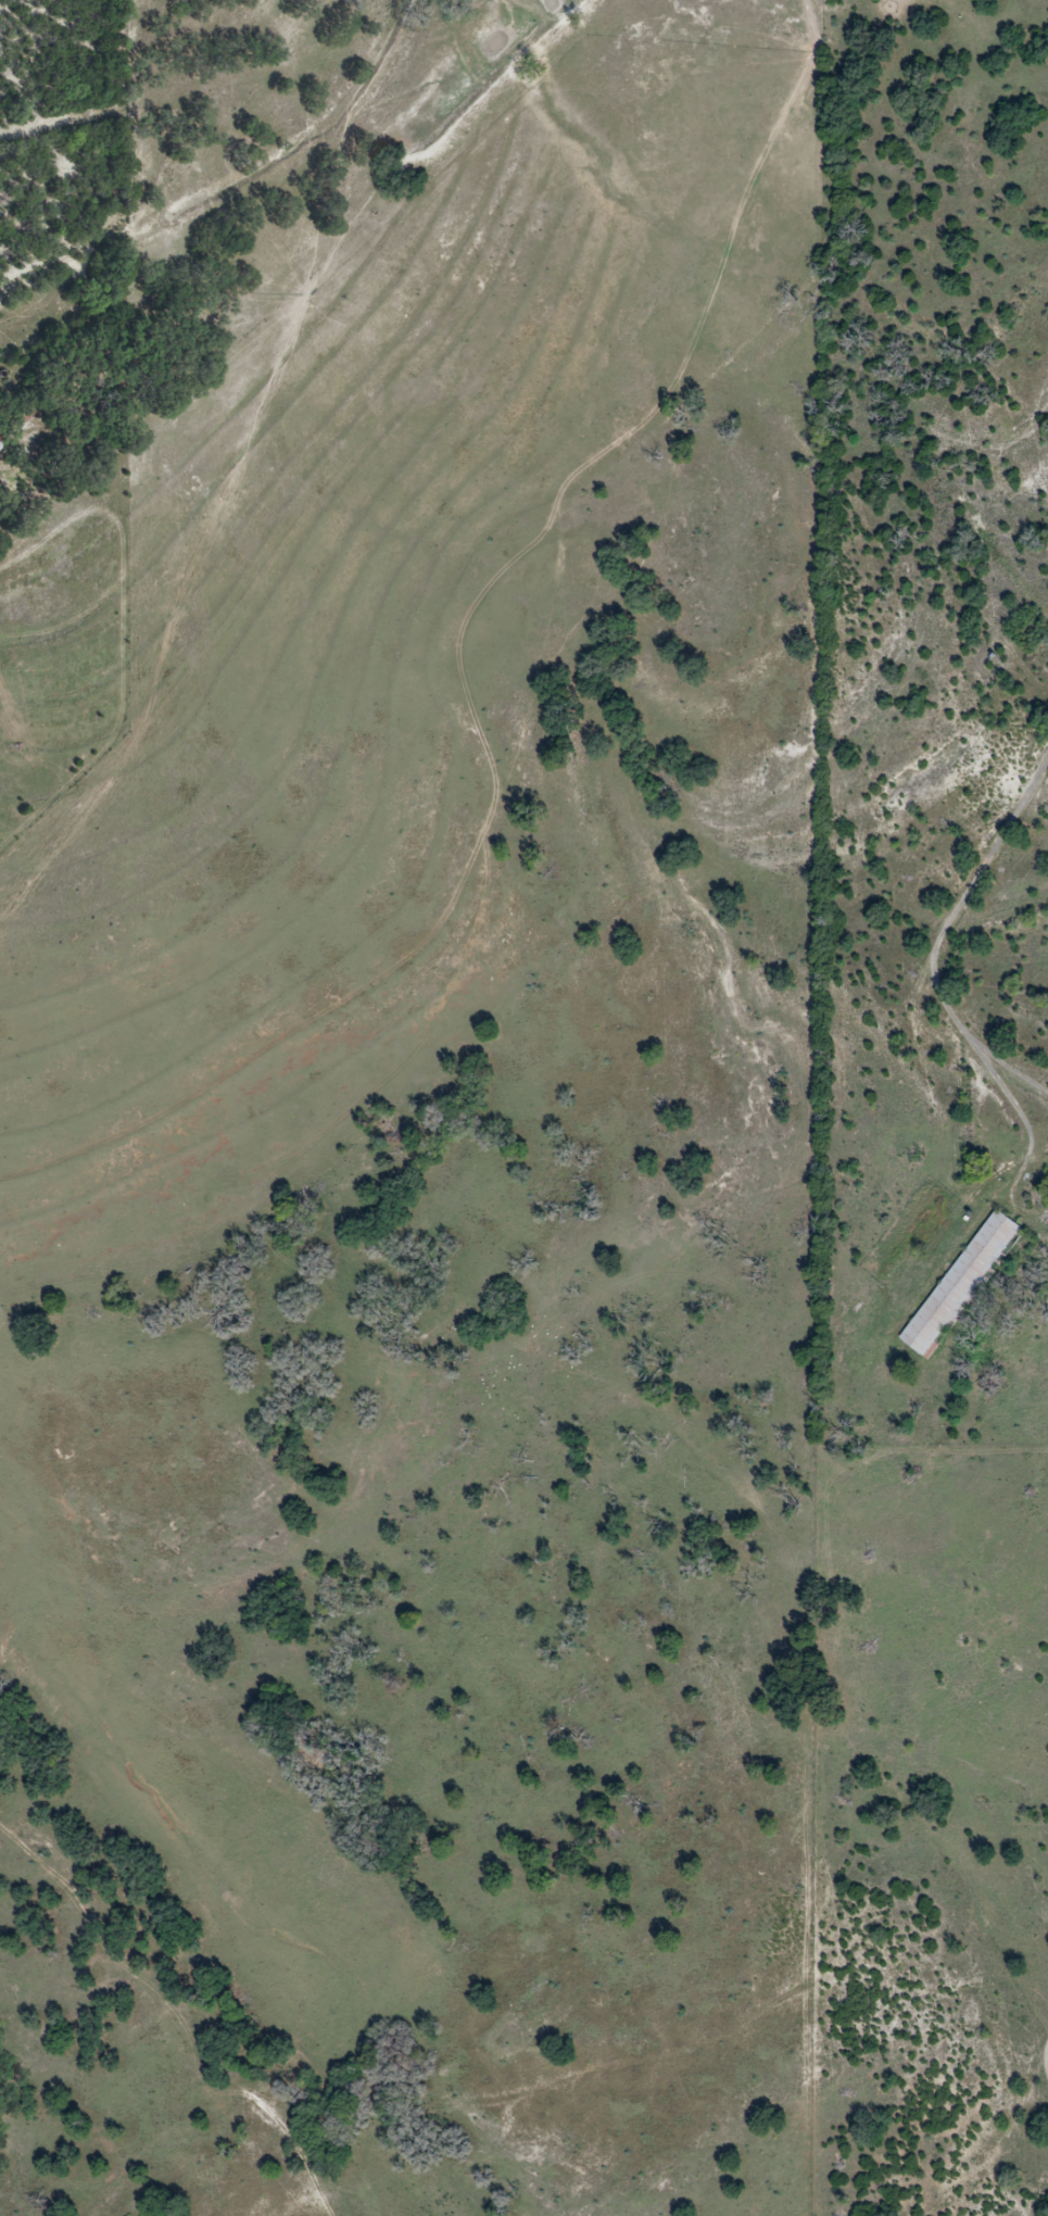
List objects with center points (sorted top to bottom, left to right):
building: (1, 444)
road: (943, 886)
building: (960, 1283)
road: (1007, 2085)

